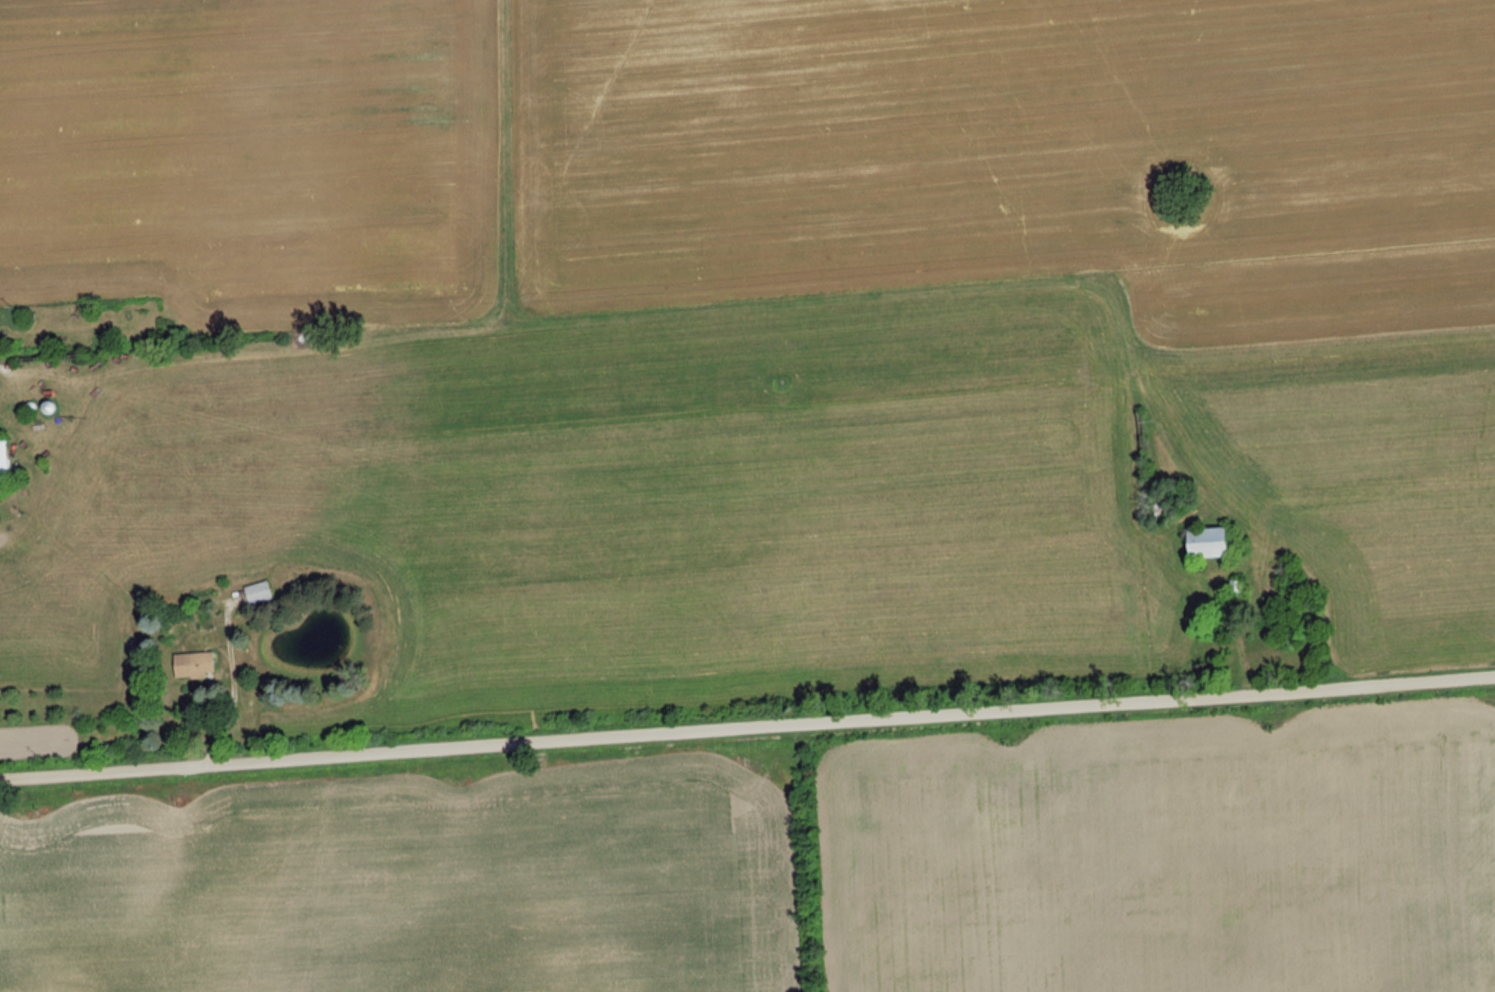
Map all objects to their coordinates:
building: (4, 465)
building: (1204, 542)
building: (257, 592)
building: (194, 664)
road: (235, 688)
road: (747, 727)

